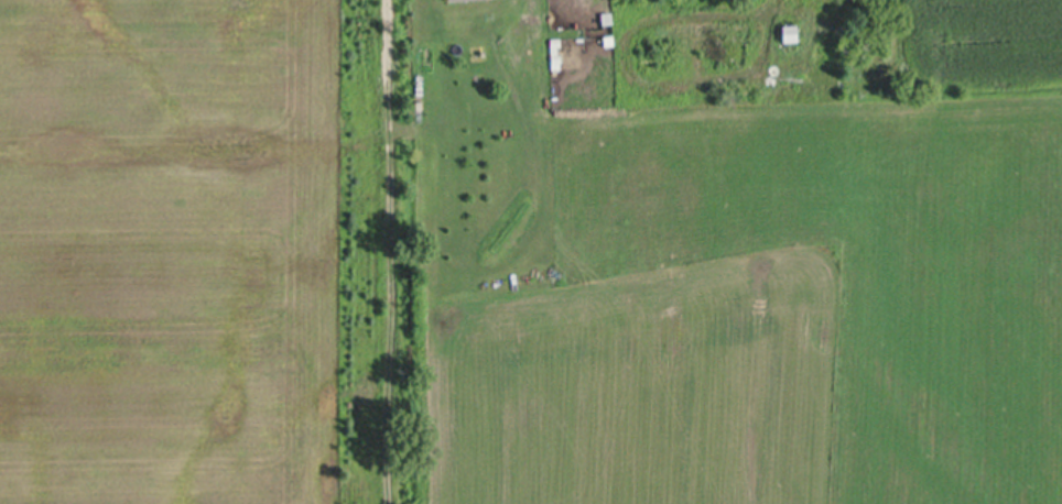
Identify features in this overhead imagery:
building: (454, 0)
building: (791, 30)
building: (581, 52)

